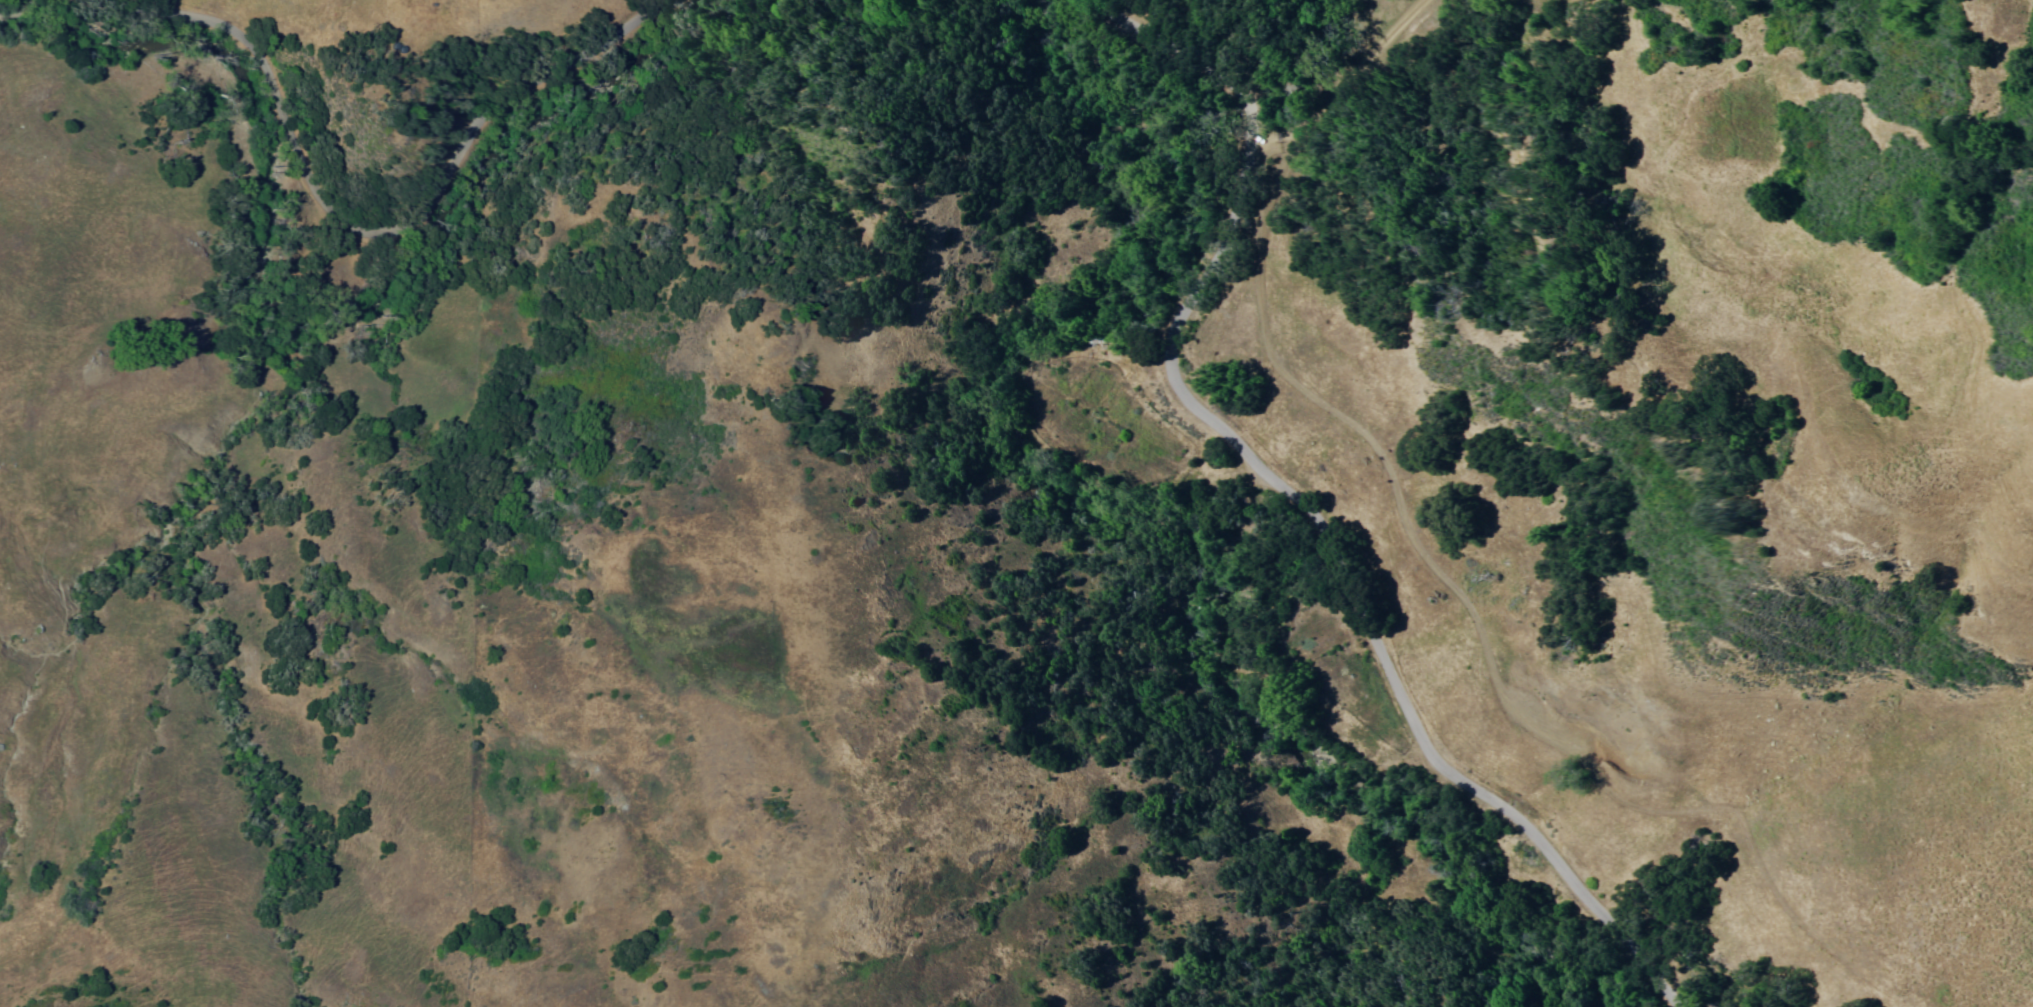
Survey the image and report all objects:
road: (1197, 57)
road: (1338, 79)
road: (389, 228)
building: (1094, 343)
crop: (1109, 424)
road: (1350, 594)
crop: (1346, 667)

